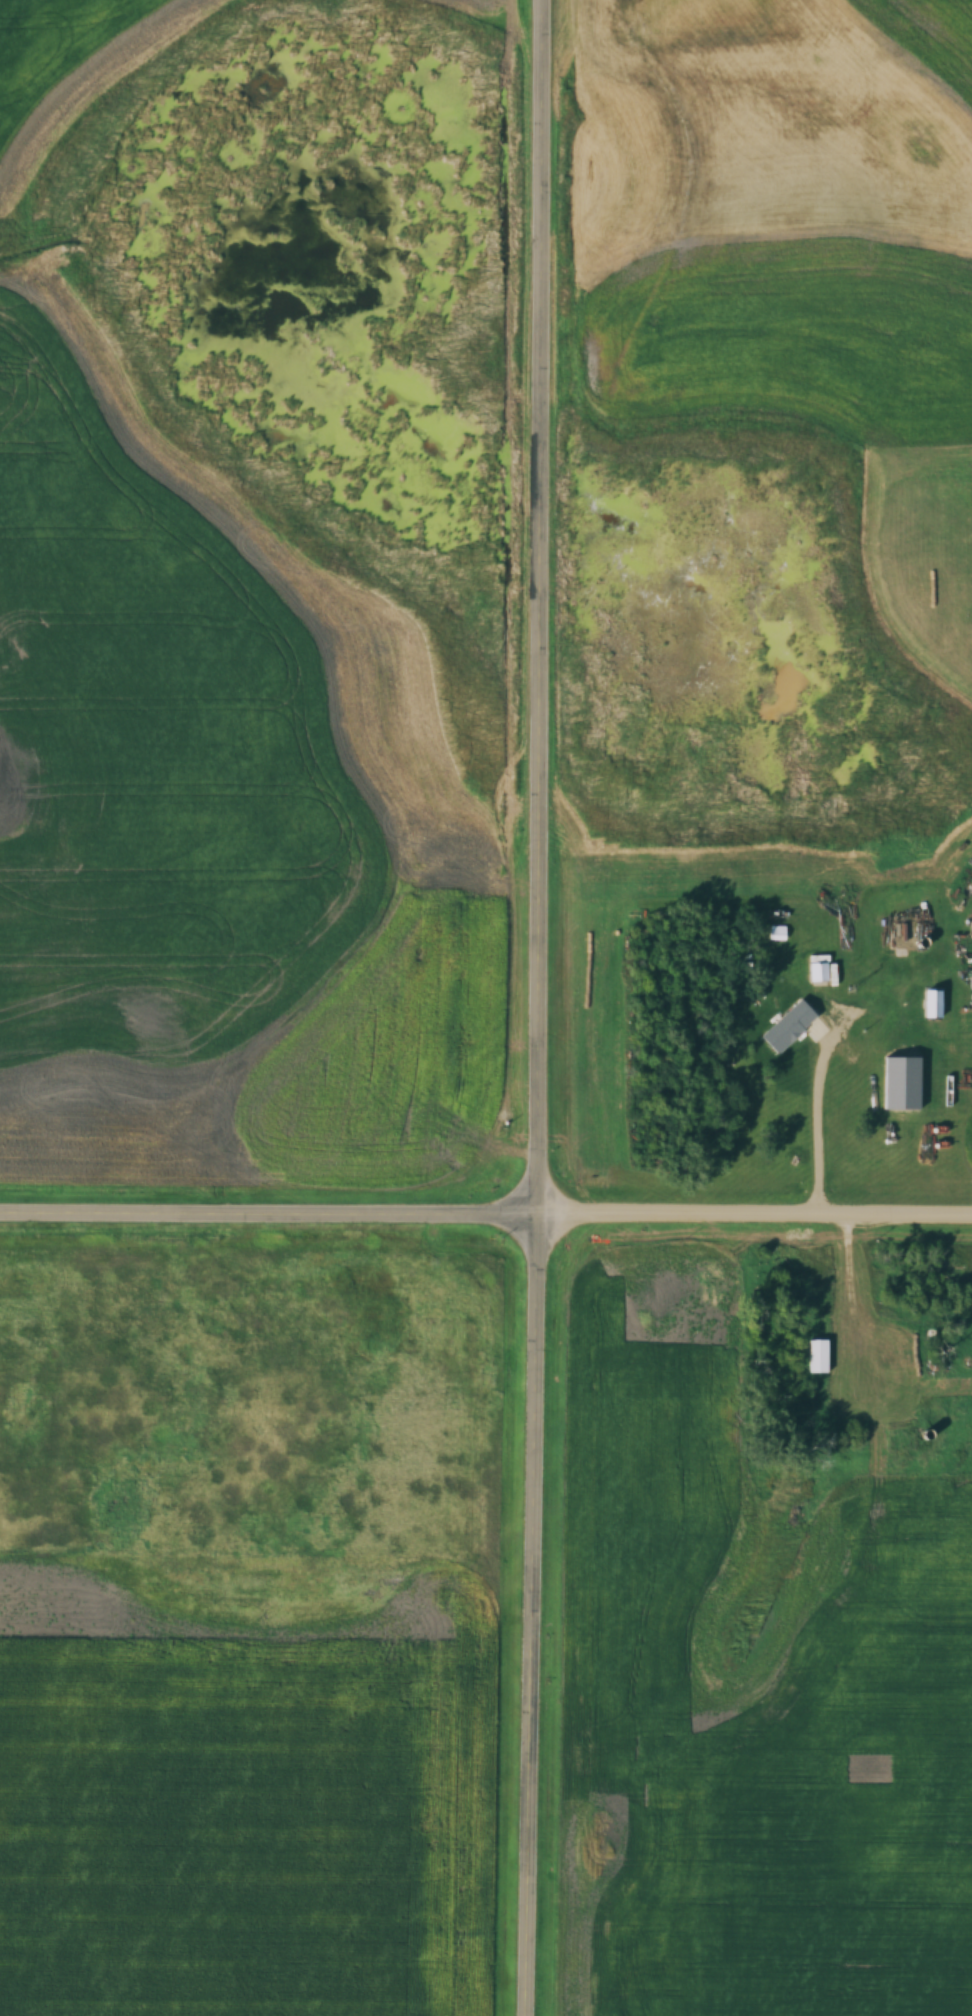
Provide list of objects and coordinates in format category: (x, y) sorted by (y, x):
building: (969, 928)
building: (899, 934)
building: (816, 971)
building: (937, 1007)
road: (538, 1008)
building: (794, 1031)
building: (908, 1086)
building: (865, 1108)
road: (269, 1212)
road: (755, 1213)
building: (816, 1356)

